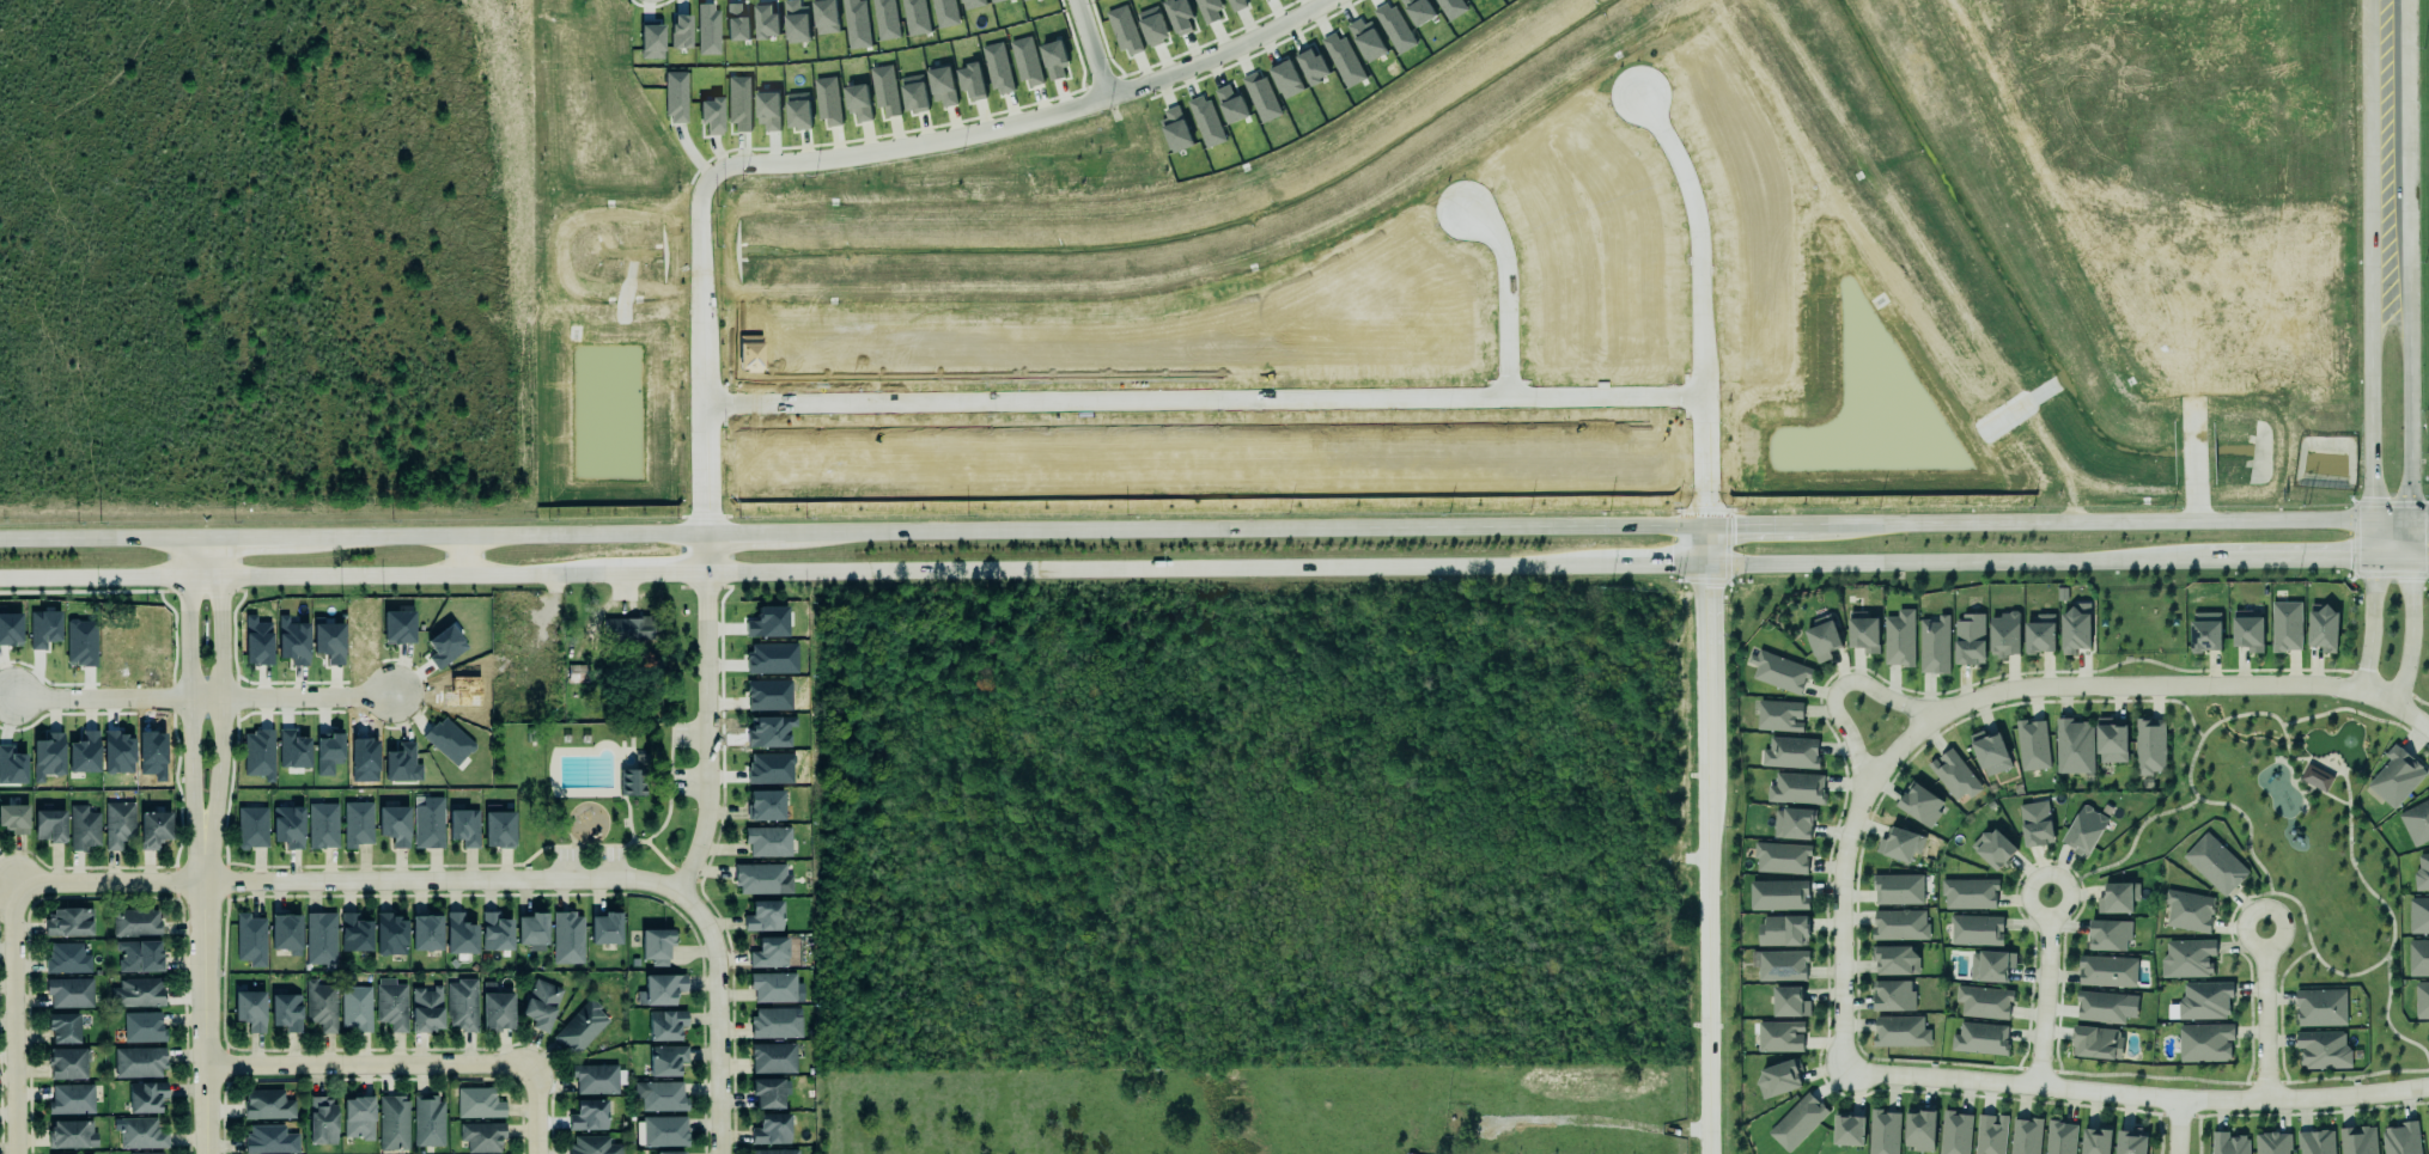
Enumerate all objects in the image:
building: (997, 0)
building: (1024, 0)
building: (972, 4)
building: (1237, 5)
building: (1451, 7)
building: (1210, 8)
building: (1418, 11)
building: (944, 13)
building: (826, 16)
building: (1179, 16)
building: (915, 17)
building: (885, 19)
building: (766, 20)
building: (797, 22)
building: (736, 23)
building: (856, 24)
building: (1153, 25)
building: (1395, 28)
building: (707, 29)
building: (681, 31)
building: (1125, 31)
building: (1366, 39)
building: (651, 41)
road: (1086, 49)
building: (1054, 59)
building: (1343, 60)
building: (1027, 61)
building: (1313, 67)
building: (998, 68)
building: (1286, 79)
building: (972, 81)
building: (942, 86)
building: (884, 90)
building: (914, 92)
building: (676, 97)
building: (1261, 97)
building: (828, 100)
building: (858, 102)
building: (738, 103)
building: (1231, 105)
building: (768, 110)
building: (798, 110)
building: (711, 115)
building: (1206, 121)
building: (1175, 129)
road: (2390, 146)
road: (850, 157)
road: (1500, 289)
road: (1698, 300)
road: (1201, 396)
road: (2370, 403)
road: (2410, 421)
road: (2421, 519)
road: (2392, 520)
road: (2089, 521)
road: (1754, 524)
road: (1243, 527)
road: (747, 531)
road: (501, 532)
road: (92, 535)
road: (200, 535)
road: (256, 535)
road: (2372, 537)
road: (1701, 543)
road: (708, 550)
road: (2392, 555)
road: (2312, 556)
road: (2421, 556)
road: (2230, 557)
road: (1954, 560)
road: (1657, 562)
road: (1161, 567)
road: (656, 570)
road: (2390, 570)
road: (2346, 572)
road: (302, 574)
road: (2372, 622)
building: (2285, 625)
building: (2321, 625)
building: (398, 627)
building: (2075, 628)
building: (10, 629)
building: (44, 629)
building: (628, 629)
building: (2203, 630)
building: (2248, 630)
road: (2411, 630)
building: (1863, 631)
building: (2038, 631)
building: (2004, 635)
building: (1821, 637)
building: (1899, 639)
building: (329, 640)
building: (1970, 640)
building: (293, 641)
building: (80, 642)
building: (518, 642)
building: (1932, 642)
building: (445, 646)
building: (555, 664)
building: (1778, 670)
road: (2205, 670)
building: (577, 673)
road: (2380, 680)
road: (2166, 683)
road: (1836, 688)
road: (2160, 692)
road: (95, 697)
road: (203, 697)
road: (304, 697)
road: (2417, 700)
road: (2133, 701)
fountain: (2210, 707)
road: (188, 709)
road: (219, 709)
road: (2349, 709)
road: (2259, 713)
building: (1778, 714)
road: (2220, 720)
road: (2427, 727)
building: (769, 731)
road: (712, 733)
parking lot: (692, 734)
road: (2415, 737)
building: (449, 740)
building: (2111, 740)
road: (2284, 740)
fountain: (2346, 740)
building: (2031, 743)
road: (2197, 744)
building: (2072, 745)
building: (2150, 746)
building: (81, 749)
building: (293, 750)
building: (1790, 751)
building: (118, 752)
building: (328, 752)
building: (1990, 752)
building: (258, 755)
building: (48, 757)
building: (401, 763)
building: (12, 765)
road: (2299, 771)
building: (1954, 775)
building: (2315, 775)
building: (2394, 775)
building: (631, 782)
road: (2290, 782)
parking lot: (692, 783)
building: (1795, 787)
road: (2306, 790)
road: (2320, 792)
building: (1919, 802)
building: (762, 806)
building: (13, 817)
road: (629, 818)
road: (2244, 818)
building: (1792, 819)
building: (2034, 822)
building: (2416, 822)
building: (49, 823)
building: (117, 823)
building: (426, 823)
building: (358, 824)
building: (319, 825)
building: (391, 825)
building: (83, 826)
building: (153, 826)
building: (249, 826)
building: (285, 826)
building: (464, 828)
building: (499, 828)
building: (2083, 829)
building: (766, 839)
building: (1900, 842)
park: (2293, 842)
building: (1992, 847)
road: (2127, 849)
road: (537, 850)
building: (1780, 856)
road: (1704, 857)
road: (665, 861)
road: (2038, 861)
building: (2214, 862)
parking lot: (565, 863)
parking lot: (611, 863)
road: (506, 865)
road: (330, 866)
building: (2422, 871)
building: (760, 878)
road: (347, 883)
road: (1840, 885)
building: (1897, 887)
building: (1967, 892)
building: (1777, 893)
building: (2117, 896)
road: (2239, 900)
building: (2188, 909)
building: (2418, 915)
building: (763, 916)
building: (68, 920)
building: (135, 921)
building: (1900, 924)
road: (2392, 924)
building: (532, 928)
building: (1974, 928)
building: (426, 929)
building: (605, 929)
building: (285, 930)
building: (354, 930)
building: (1783, 930)
building: (390, 932)
building: (459, 932)
building: (495, 933)
building: (2107, 933)
building: (321, 936)
building: (566, 936)
building: (250, 938)
building: (656, 946)
building: (767, 953)
building: (139, 954)
building: (2187, 957)
building: (66, 958)
building: (1894, 958)
building: (2418, 958)
building: (1990, 964)
building: (1782, 965)
road: (2287, 967)
building: (2107, 969)
building: (659, 987)
building: (772, 987)
road: (2045, 989)
building: (69, 991)
building: (136, 991)
building: (1893, 995)
building: (2422, 997)
building: (2204, 999)
road: (2279, 999)
building: (1788, 1000)
building: (1983, 1000)
building: (540, 1002)
building: (391, 1003)
building: (319, 1005)
building: (463, 1005)
building: (2101, 1005)
building: (495, 1006)
building: (2319, 1006)
building: (249, 1008)
building: (354, 1009)
building: (427, 1009)
building: (286, 1010)
building: (2172, 1012)
road: (2264, 1013)
road: (722, 1015)
road: (14, 1018)
road: (207, 1018)
road: (2384, 1020)
building: (775, 1021)
building: (664, 1022)
building: (62, 1025)
building: (141, 1026)
building: (582, 1027)
building: (1899, 1030)
building: (1778, 1034)
building: (1980, 1038)
building: (2095, 1040)
building: (2204, 1042)
building: (2321, 1048)
building: (772, 1056)
building: (665, 1058)
building: (139, 1061)
building: (67, 1062)
road: (373, 1067)
building: (1778, 1076)
building: (595, 1077)
building: (767, 1091)
road: (2135, 1092)
building: (660, 1095)
building: (146, 1097)
building: (72, 1099)
building: (479, 1103)
building: (268, 1105)
road: (538, 1111)
building: (589, 1116)
building: (358, 1117)
building: (321, 1119)
building: (427, 1119)
building: (1797, 1122)
building: (394, 1123)
road: (2174, 1125)
building: (769, 1128)
building: (1846, 1128)
building: (1918, 1128)
building: (663, 1130)
building: (1882, 1131)
building: (1954, 1131)
building: (72, 1134)
building: (140, 1134)
building: (1991, 1134)
building: (2025, 1135)
building: (482, 1136)
building: (2058, 1137)
building: (2400, 1137)
building: (269, 1140)
building: (2356, 1140)
building: (2095, 1141)
building: (2130, 1141)
building: (2314, 1141)
building: (2227, 1142)
building: (2271, 1142)
building: (593, 1146)
building: (669, 1152)
building: (777, 1152)
building: (148, 1153)

